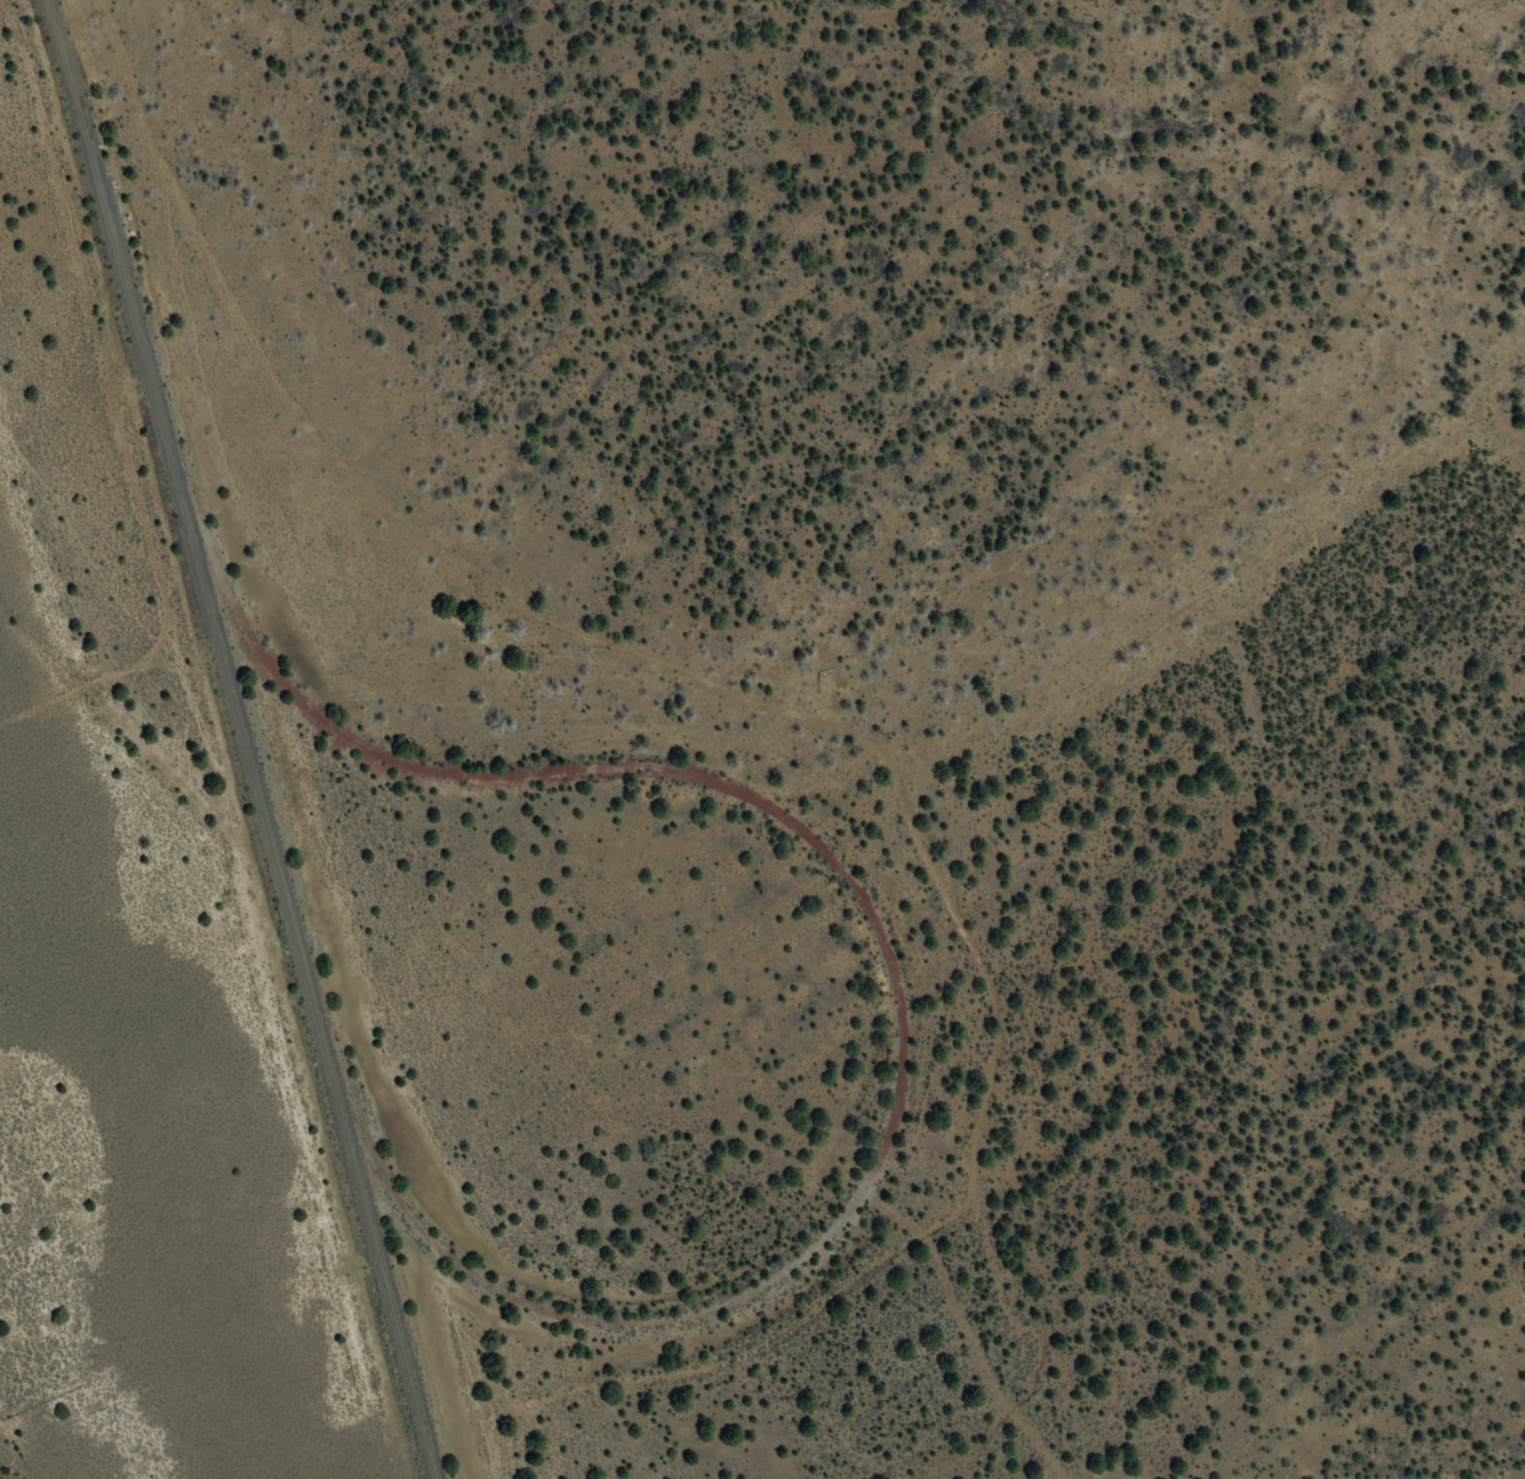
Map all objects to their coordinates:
road: (114, 407)
road: (999, 1301)

